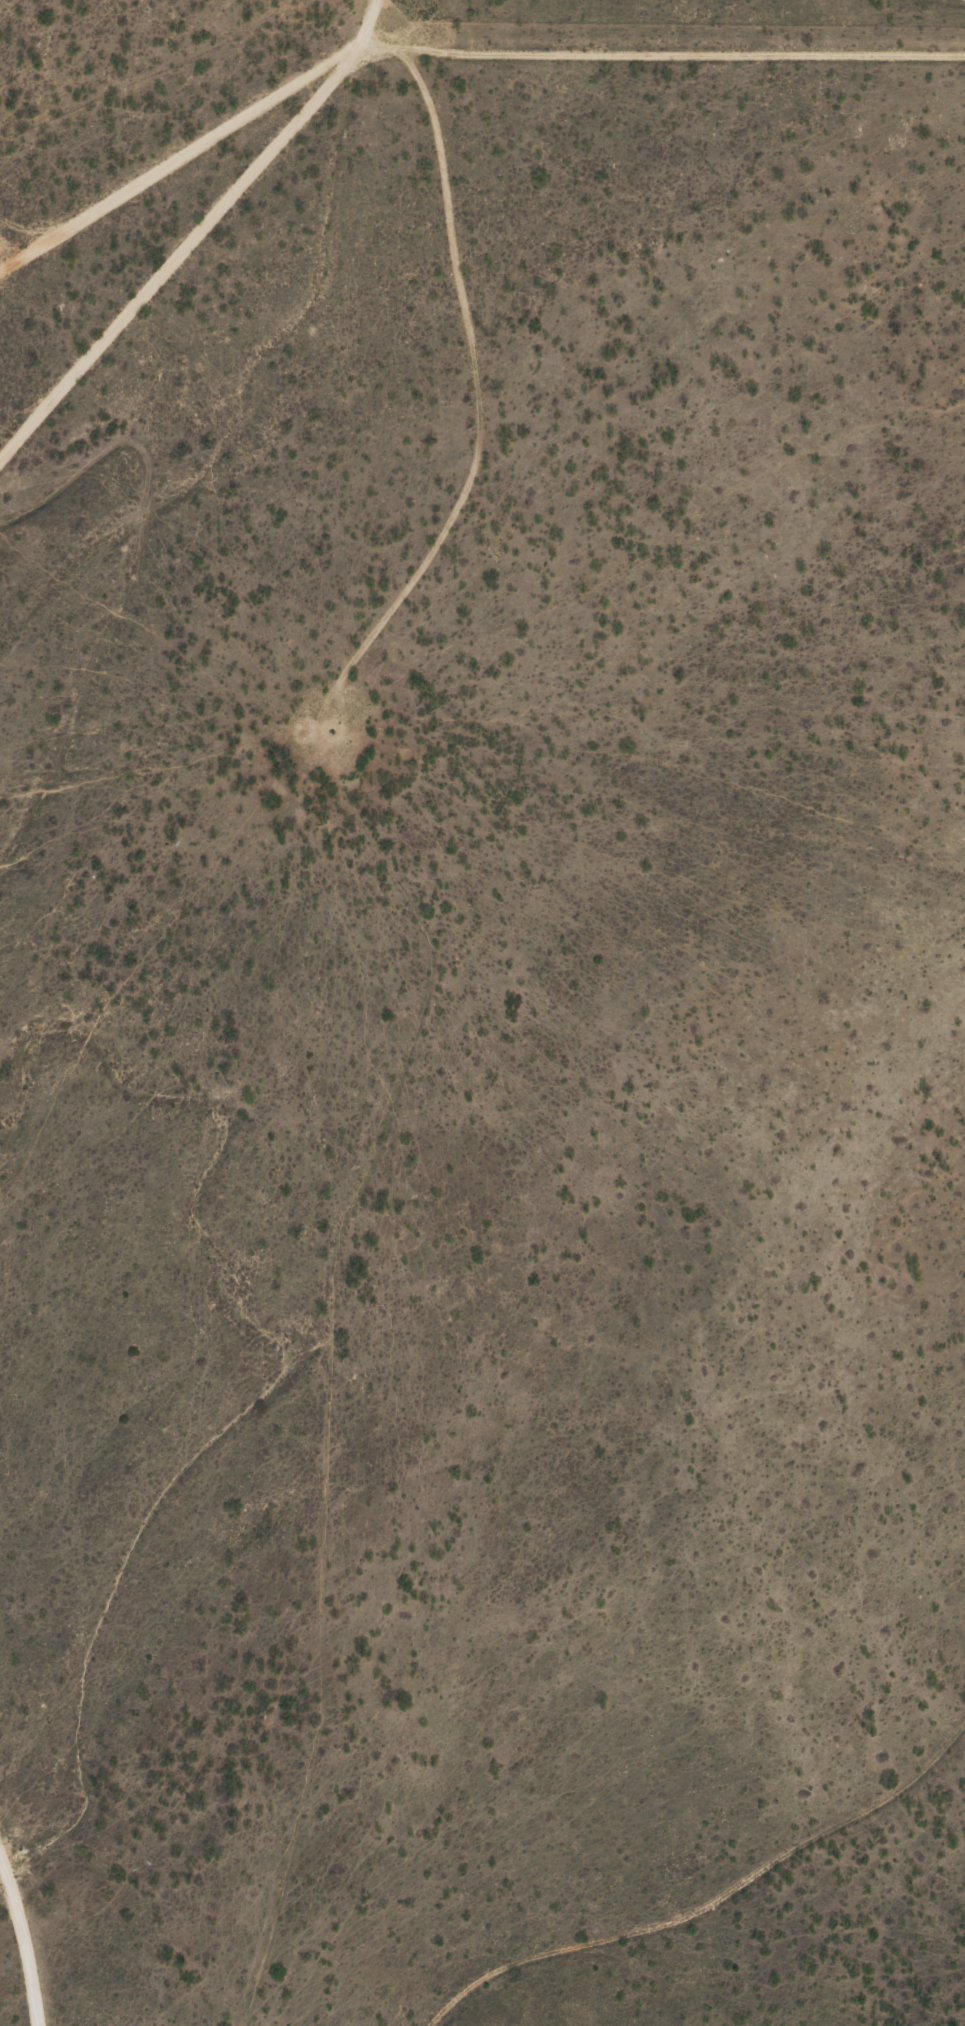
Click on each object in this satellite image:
road: (458, 88)
road: (316, 255)
road: (85, 550)
road: (554, 762)
road: (730, 1903)

